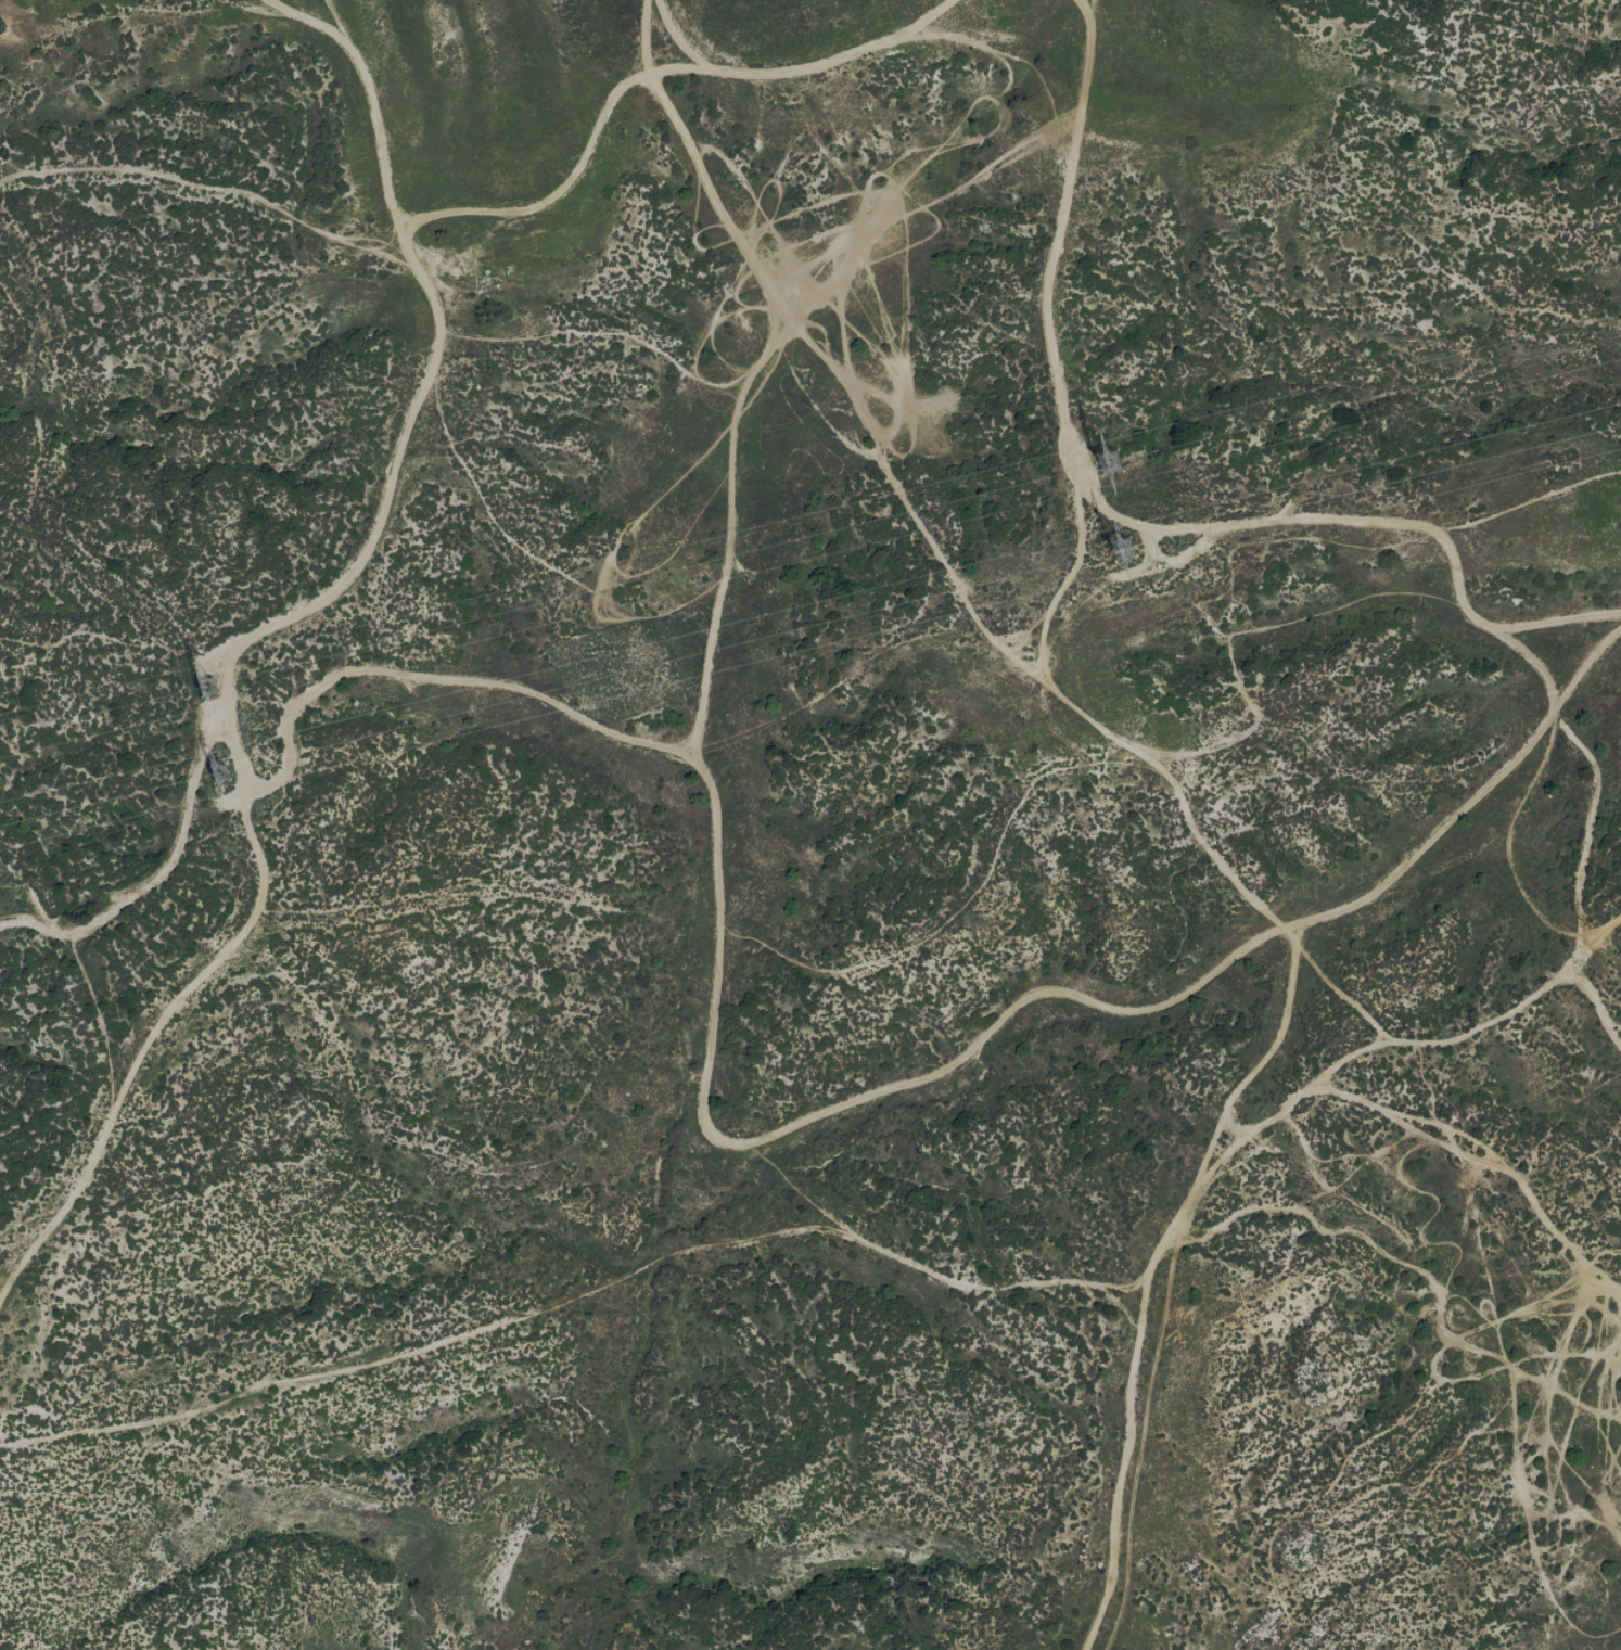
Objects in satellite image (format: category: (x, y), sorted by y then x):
road: (754, 71)
power tower: (1116, 463)
road: (1274, 519)
power tower: (1114, 547)
road: (260, 611)
power tower: (215, 686)
power tower: (219, 776)
road: (1215, 1162)

